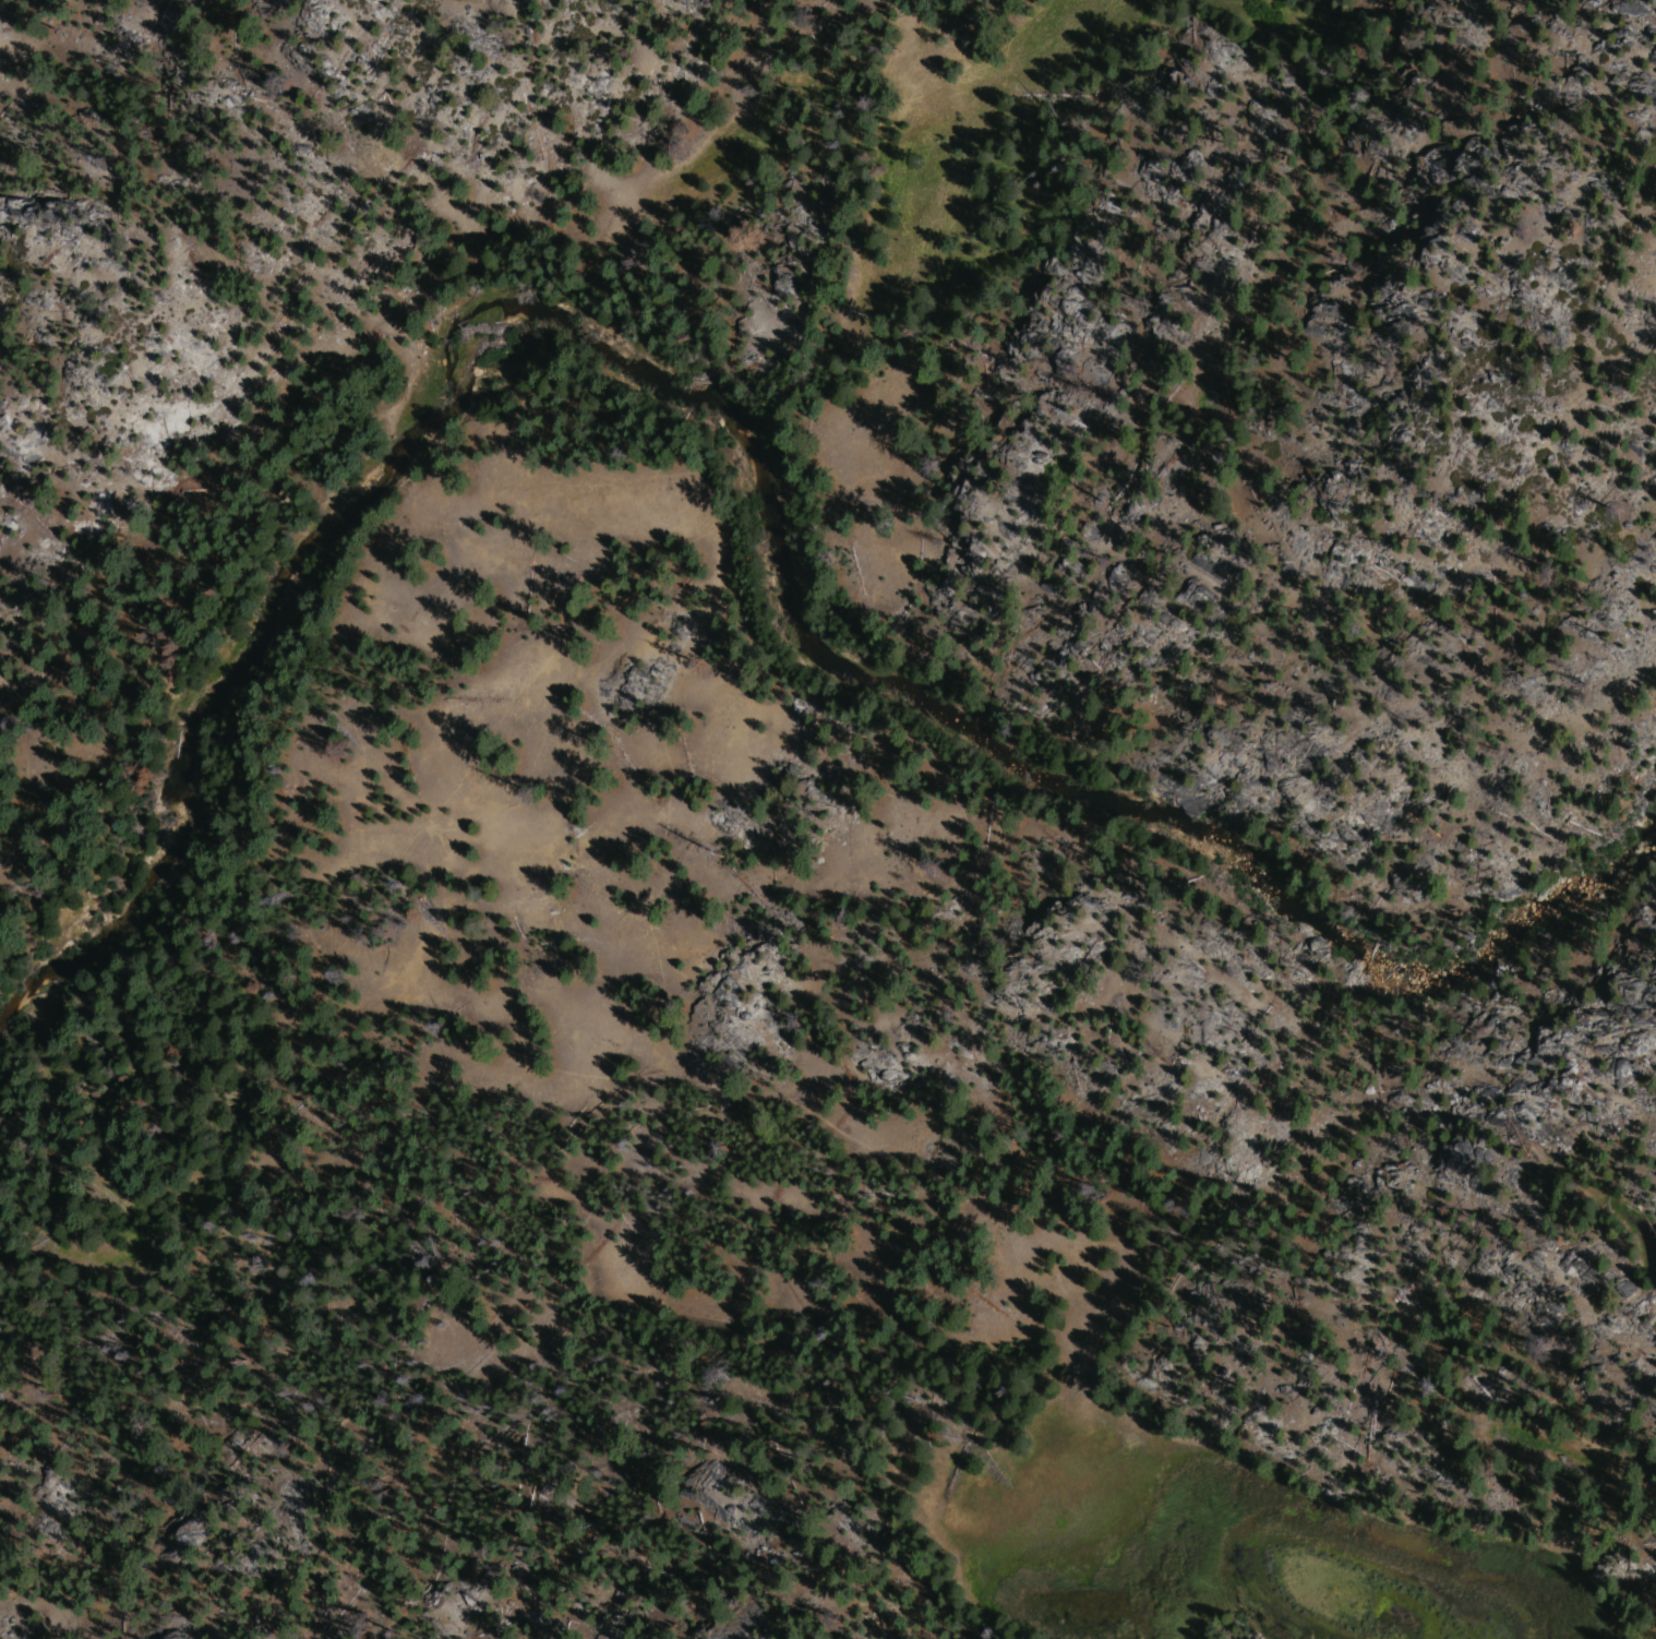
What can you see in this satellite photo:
road: (538, 669)
road: (158, 895)
road: (998, 1180)

